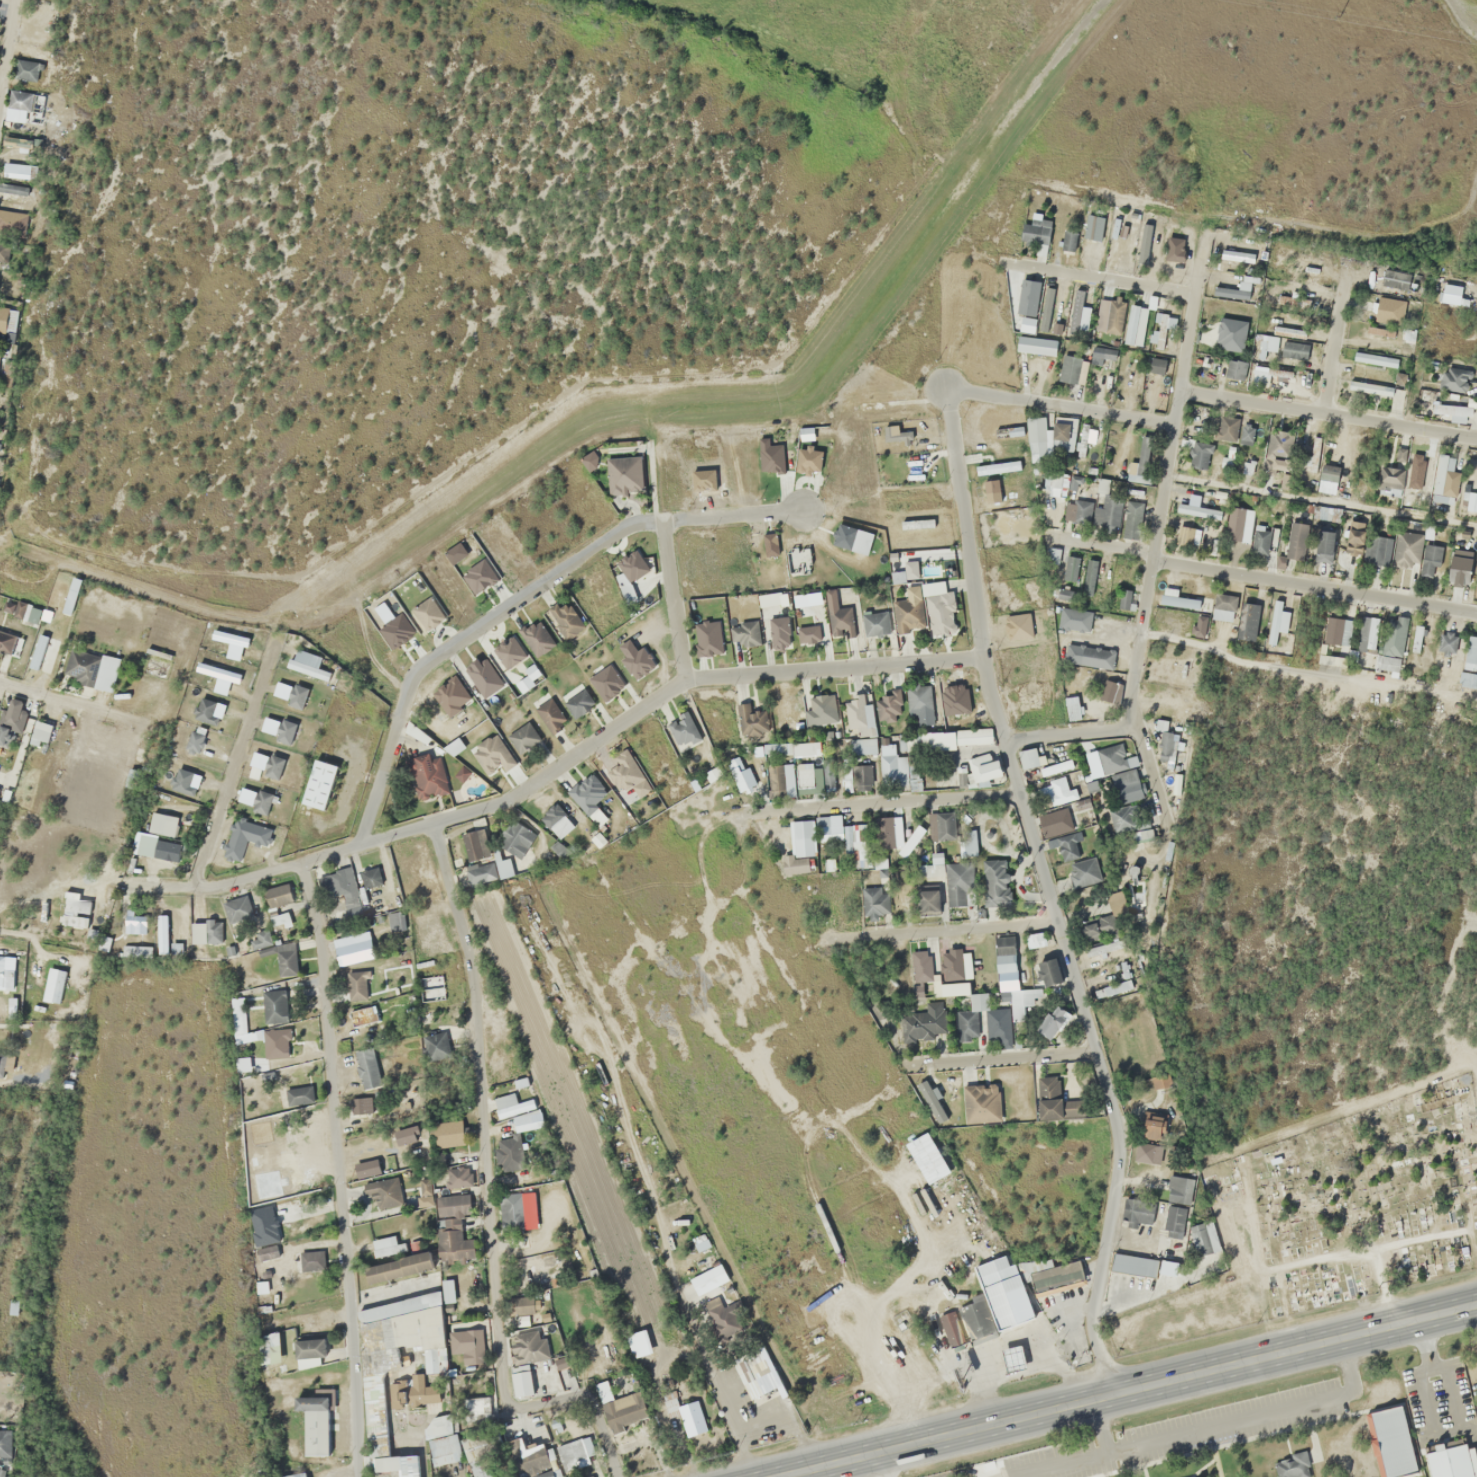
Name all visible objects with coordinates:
road: (7, 43)
building: (26, 70)
building: (18, 105)
building: (1093, 230)
building: (1036, 234)
building: (1068, 240)
building: (1170, 248)
building: (1143, 253)
road: (1098, 276)
building: (1382, 286)
building: (1231, 291)
building: (1027, 297)
building: (1047, 304)
building: (1371, 309)
building: (1079, 315)
building: (1110, 315)
building: (7, 320)
building: (1136, 325)
building: (1158, 330)
building: (1283, 330)
building: (1230, 334)
road: (1334, 337)
building: (1267, 343)
building: (1036, 345)
building: (1374, 359)
building: (1070, 369)
building: (1235, 370)
building: (1152, 391)
road: (1328, 412)
building: (1454, 412)
building: (1226, 428)
building: (1060, 434)
building: (1037, 436)
building: (1277, 449)
building: (1313, 453)
road: (954, 454)
building: (1200, 454)
building: (1141, 462)
building: (997, 467)
building: (1442, 477)
building: (1327, 478)
building: (1391, 480)
building: (1058, 481)
road: (1161, 486)
building: (1471, 502)
building: (1107, 512)
building: (1131, 519)
building: (1238, 524)
building: (1186, 535)
building: (1353, 539)
building: (1296, 540)
building: (1260, 541)
building: (1323, 545)
building: (1374, 549)
building: (1406, 550)
building: (1052, 555)
building: (1429, 559)
building: (631, 566)
building: (1071, 568)
building: (1459, 568)
road: (1266, 574)
building: (478, 575)
building: (1088, 577)
building: (813, 597)
building: (1125, 599)
building: (418, 600)
road: (518, 600)
road: (675, 605)
building: (1223, 606)
building: (907, 615)
building: (1159, 616)
building: (839, 617)
building: (1073, 618)
building: (1277, 621)
building: (875, 623)
building: (1018, 625)
building: (1336, 630)
building: (743, 632)
building: (779, 632)
building: (1368, 632)
building: (527, 634)
building: (808, 634)
building: (1393, 636)
building: (707, 638)
building: (1416, 638)
building: (509, 651)
building: (1471, 653)
building: (1088, 656)
building: (1331, 660)
building: (82, 666)
building: (218, 672)
road: (1306, 674)
road: (39, 696)
building: (296, 696)
building: (578, 703)
building: (1071, 708)
building: (820, 709)
building: (205, 710)
building: (889, 712)
building: (551, 714)
building: (859, 715)
building: (750, 720)
building: (284, 731)
road: (1070, 732)
building: (523, 737)
building: (195, 739)
building: (1165, 747)
building: (806, 750)
building: (492, 754)
building: (1111, 758)
road: (233, 760)
building: (891, 765)
building: (272, 766)
road: (556, 768)
building: (983, 768)
road: (1150, 771)
building: (427, 775)
building: (860, 776)
building: (805, 777)
building: (828, 777)
building: (743, 778)
building: (182, 780)
building: (781, 780)
building: (1054, 782)
building: (318, 784)
building: (584, 791)
building: (261, 802)
road: (887, 807)
building: (552, 818)
building: (901, 821)
building: (942, 825)
building: (828, 828)
building: (883, 832)
building: (159, 837)
building: (242, 837)
building: (515, 838)
building: (967, 842)
building: (476, 845)
building: (856, 845)
building: (1066, 846)
building: (799, 847)
building: (936, 857)
building: (827, 858)
building: (1083, 872)
building: (481, 873)
building: (370, 877)
building: (994, 882)
building: (957, 884)
building: (340, 890)
building: (277, 896)
building: (927, 898)
building: (874, 901)
building: (237, 909)
building: (135, 923)
building: (1097, 926)
road: (959, 928)
building: (162, 934)
building: (260, 939)
building: (1035, 940)
building: (103, 943)
building: (352, 948)
building: (136, 951)
building: (1004, 954)
building: (916, 963)
building: (951, 964)
building: (0, 972)
building: (1048, 972)
building: (356, 985)
building: (947, 989)
building: (274, 1005)
building: (1015, 1005)
building: (363, 1015)
building: (969, 1017)
building: (921, 1019)
building: (1051, 1021)
building: (276, 1043)
building: (434, 1046)
building: (1, 1062)
road: (1095, 1065)
building: (367, 1068)
road: (1024, 1069)
building: (298, 1095)
building: (1048, 1097)
building: (360, 1105)
building: (512, 1105)
building: (992, 1109)
building: (528, 1125)
building: (1150, 1137)
road: (337, 1168)
building: (366, 1168)
building: (384, 1192)
road: (486, 1196)
park: (1369, 1198)
building: (512, 1212)
building: (1136, 1212)
building: (264, 1232)
building: (1172, 1232)
building: (1204, 1238)
building: (452, 1241)
building: (387, 1246)
building: (311, 1260)
building: (1133, 1264)
building: (398, 1268)
building: (1055, 1278)
building: (260, 1287)
building: (447, 1290)
building: (985, 1315)
building: (396, 1323)
building: (638, 1343)
building: (520, 1344)
road: (1295, 1347)
building: (309, 1352)
building: (1011, 1357)
building: (430, 1360)
building: (756, 1373)
building: (521, 1380)
building: (412, 1391)
building: (620, 1408)
building: (691, 1417)
building: (316, 1421)
road: (939, 1432)
building: (1385, 1436)
building: (6, 1442)
building: (576, 1448)
building: (444, 1449)
building: (385, 1454)
building: (1447, 1459)
road: (878, 1463)
building: (1292, 1466)
building: (549, 1473)
building: (291, 1475)

